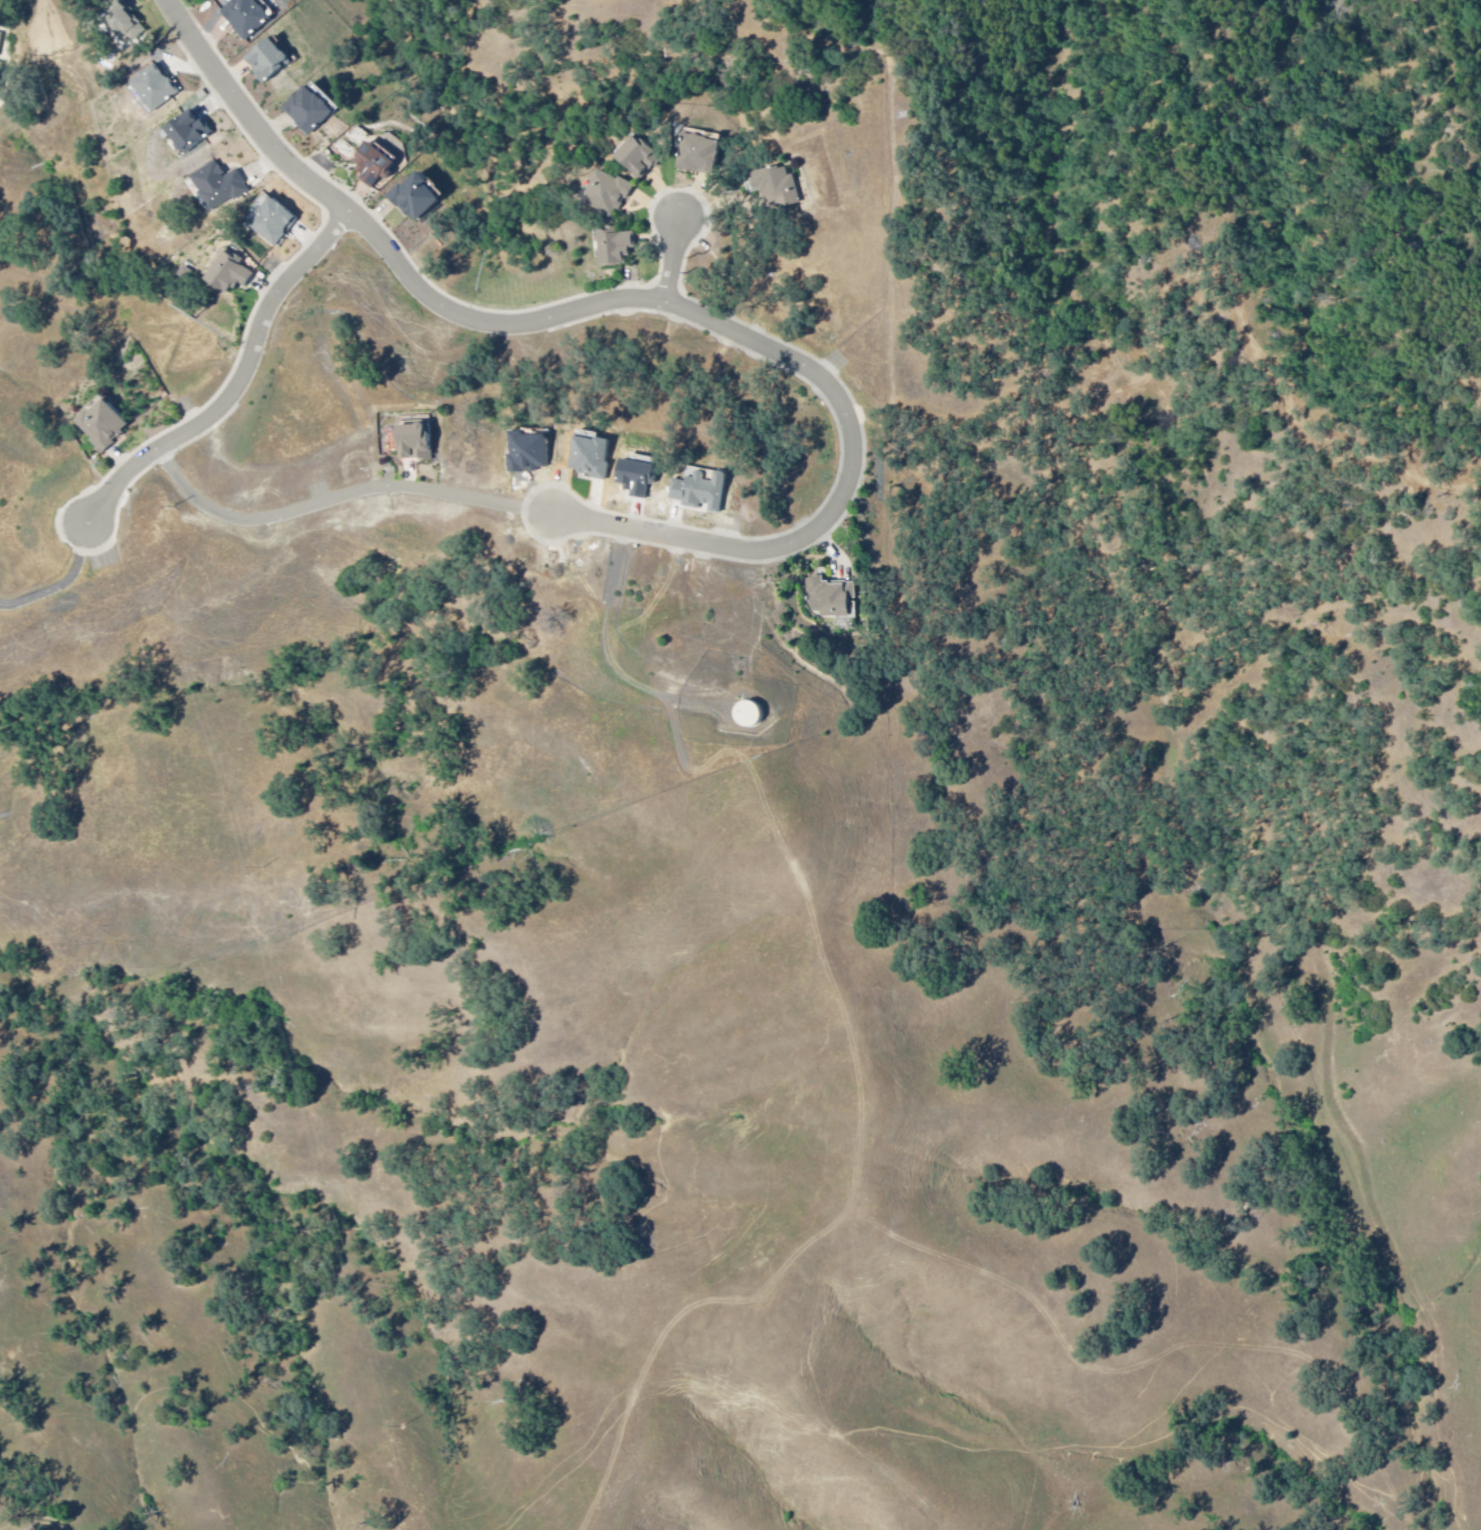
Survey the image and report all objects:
building: (247, 18)
building: (122, 20)
building: (267, 61)
building: (153, 89)
building: (308, 111)
building: (187, 133)
building: (699, 155)
building: (638, 158)
building: (218, 187)
building: (776, 188)
building: (607, 194)
building: (415, 198)
building: (274, 222)
building: (616, 247)
road: (670, 268)
building: (230, 273)
road: (649, 305)
road: (1157, 331)
road: (235, 382)
building: (103, 426)
building: (415, 443)
building: (595, 449)
road: (341, 501)
building: (831, 598)
building: (740, 717)

